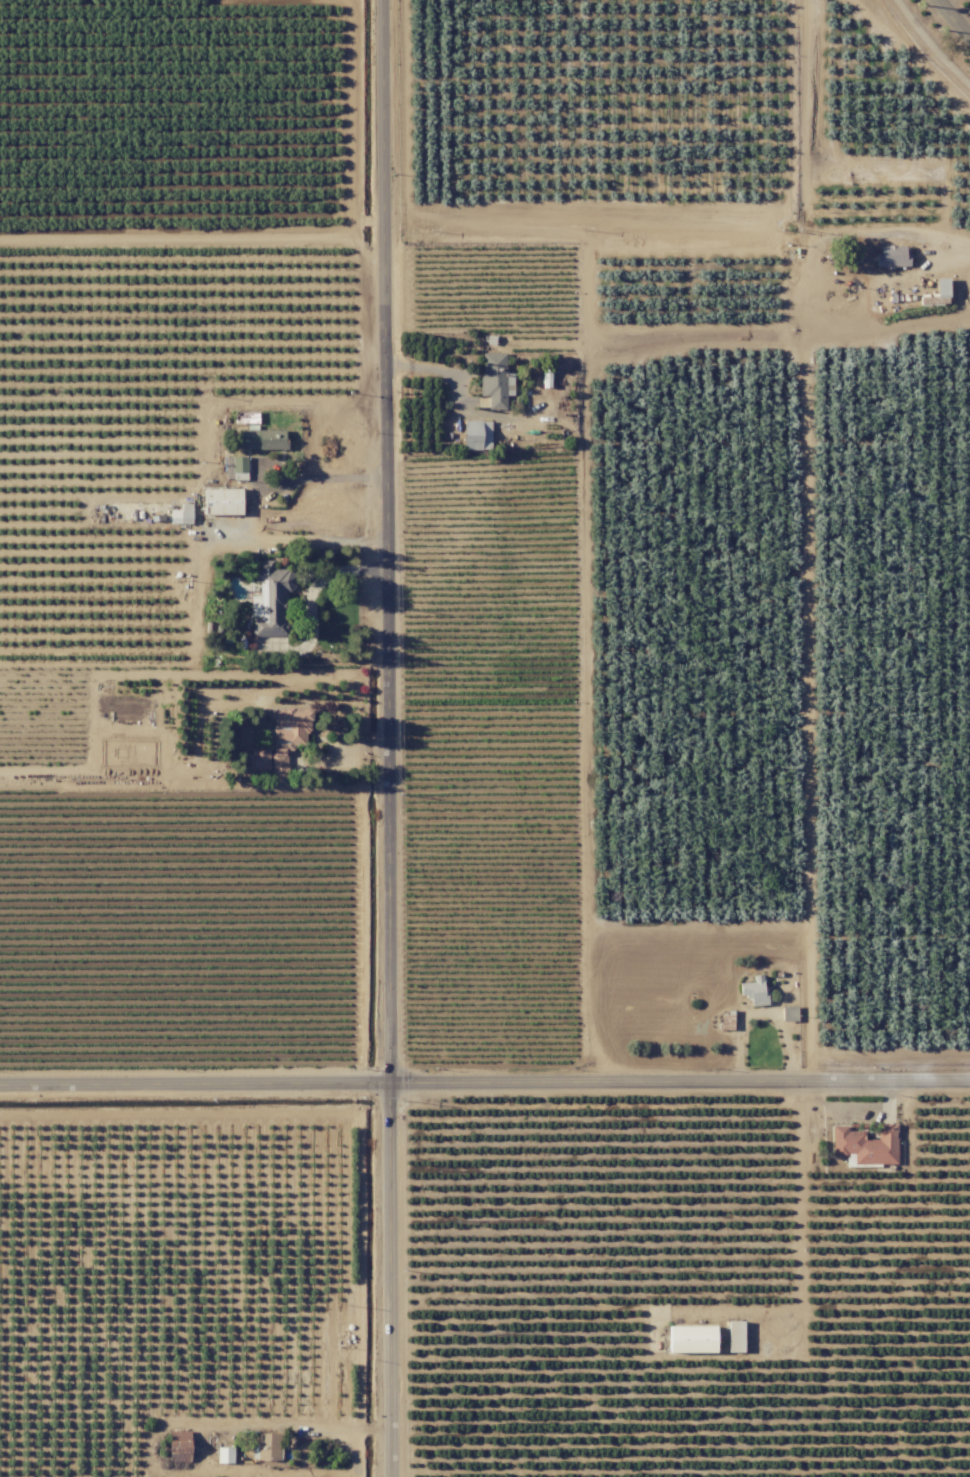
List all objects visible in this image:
road: (953, 19)
crop: (178, 122)
crop: (671, 128)
building: (891, 255)
road: (959, 258)
building: (495, 379)
building: (476, 434)
building: (261, 438)
building: (238, 467)
building: (222, 501)
building: (181, 514)
road: (301, 542)
crop: (691, 596)
building: (272, 599)
building: (286, 736)
road: (385, 738)
building: (256, 759)
crop: (884, 778)
building: (754, 989)
building: (789, 1012)
building: (726, 1022)
road: (484, 1081)
building: (865, 1144)
road: (801, 1202)
building: (735, 1335)
building: (691, 1338)
road: (378, 1432)
building: (179, 1445)
building: (266, 1446)
road: (356, 1450)
building: (224, 1454)

